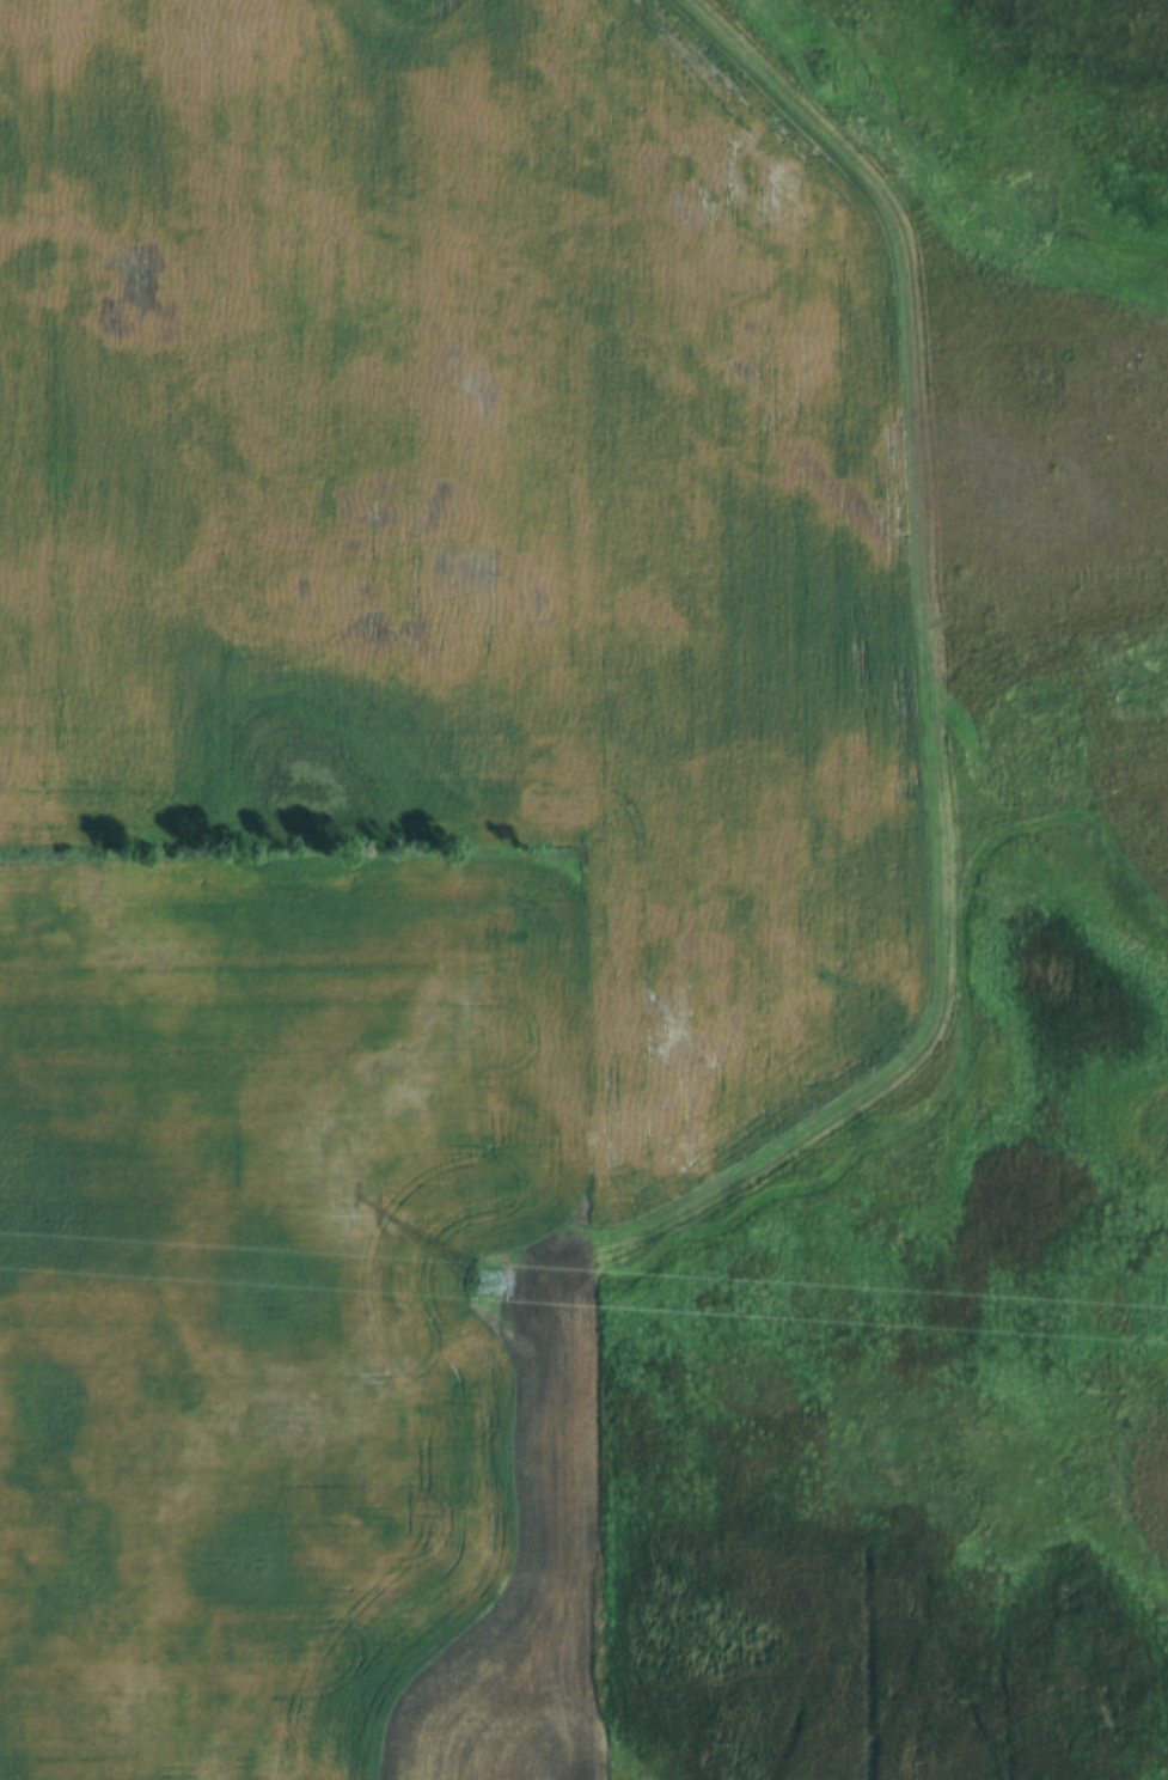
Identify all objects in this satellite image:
power tower: (476, 1276)

